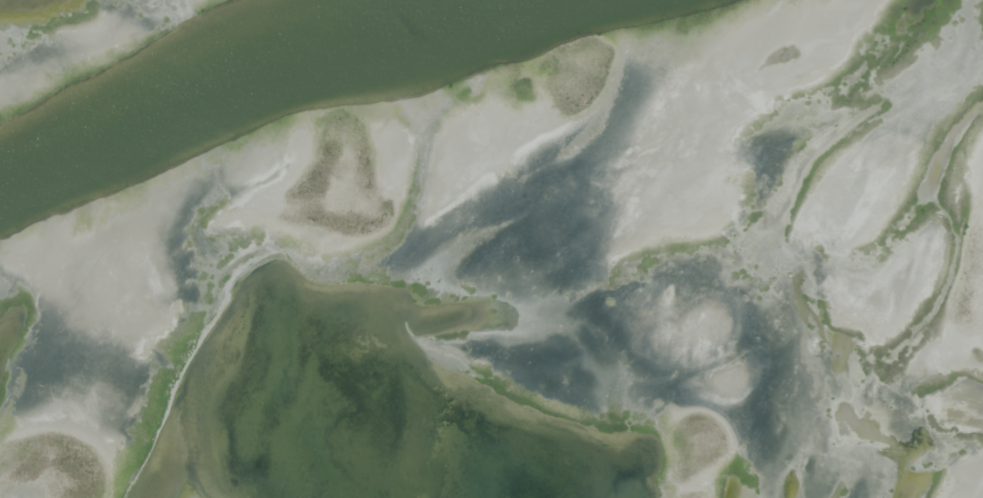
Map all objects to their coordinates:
power plant: (491, 249)

